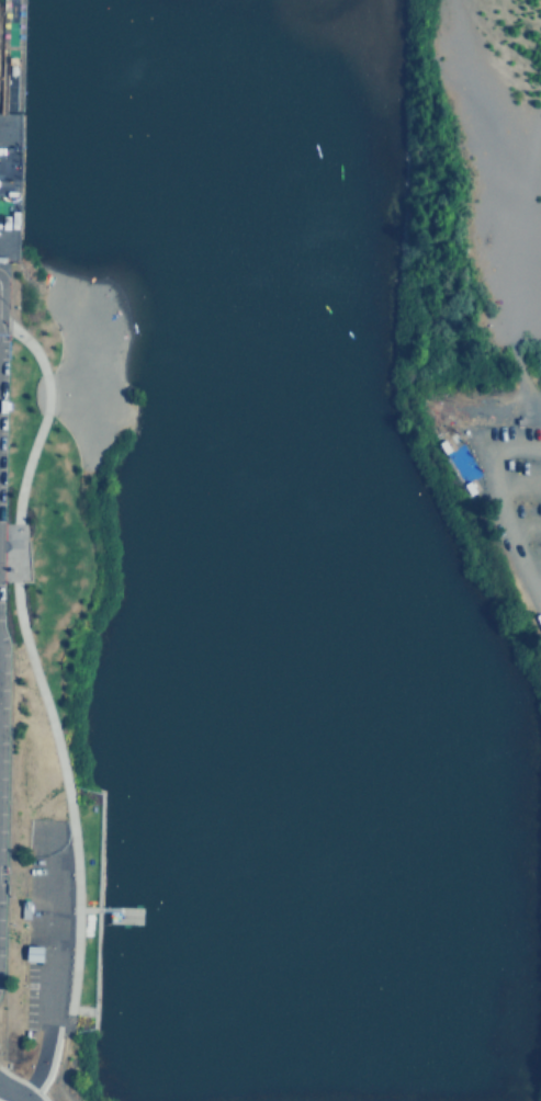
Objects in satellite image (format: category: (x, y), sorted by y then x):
road: (20, 66)
park: (9, 125)
road: (0, 305)
park: (463, 387)
road: (42, 405)
parking lot: (501, 475)
road: (514, 480)
road: (492, 489)
road: (525, 526)
road: (15, 541)
road: (533, 567)
park: (49, 666)
road: (67, 836)
road: (82, 911)
road: (115, 911)
parking lot: (40, 929)
road: (44, 965)
park: (539, 1056)
park: (70, 1083)
road: (10, 1094)

